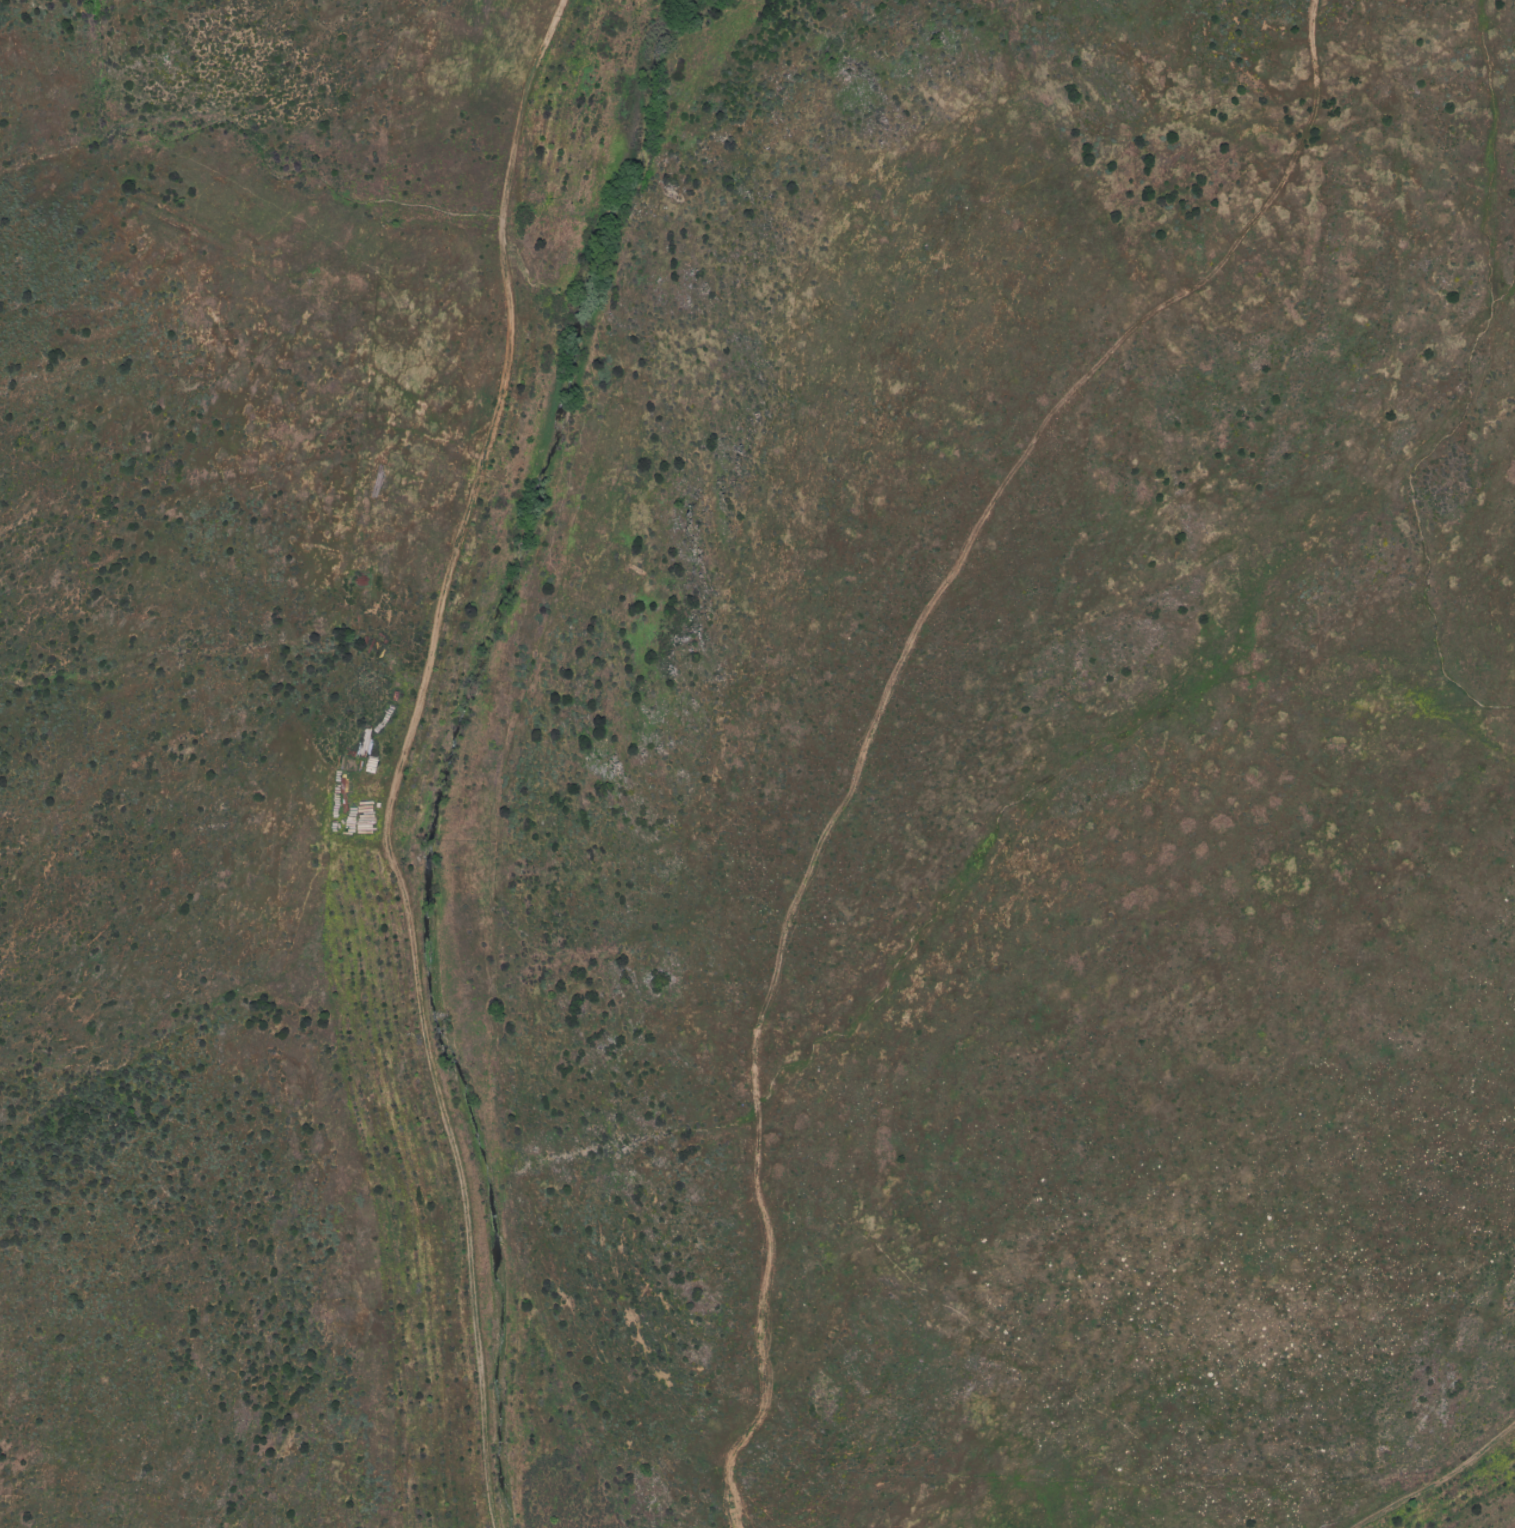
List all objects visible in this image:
road: (880, 705)
road: (406, 758)
road: (1440, 1482)

